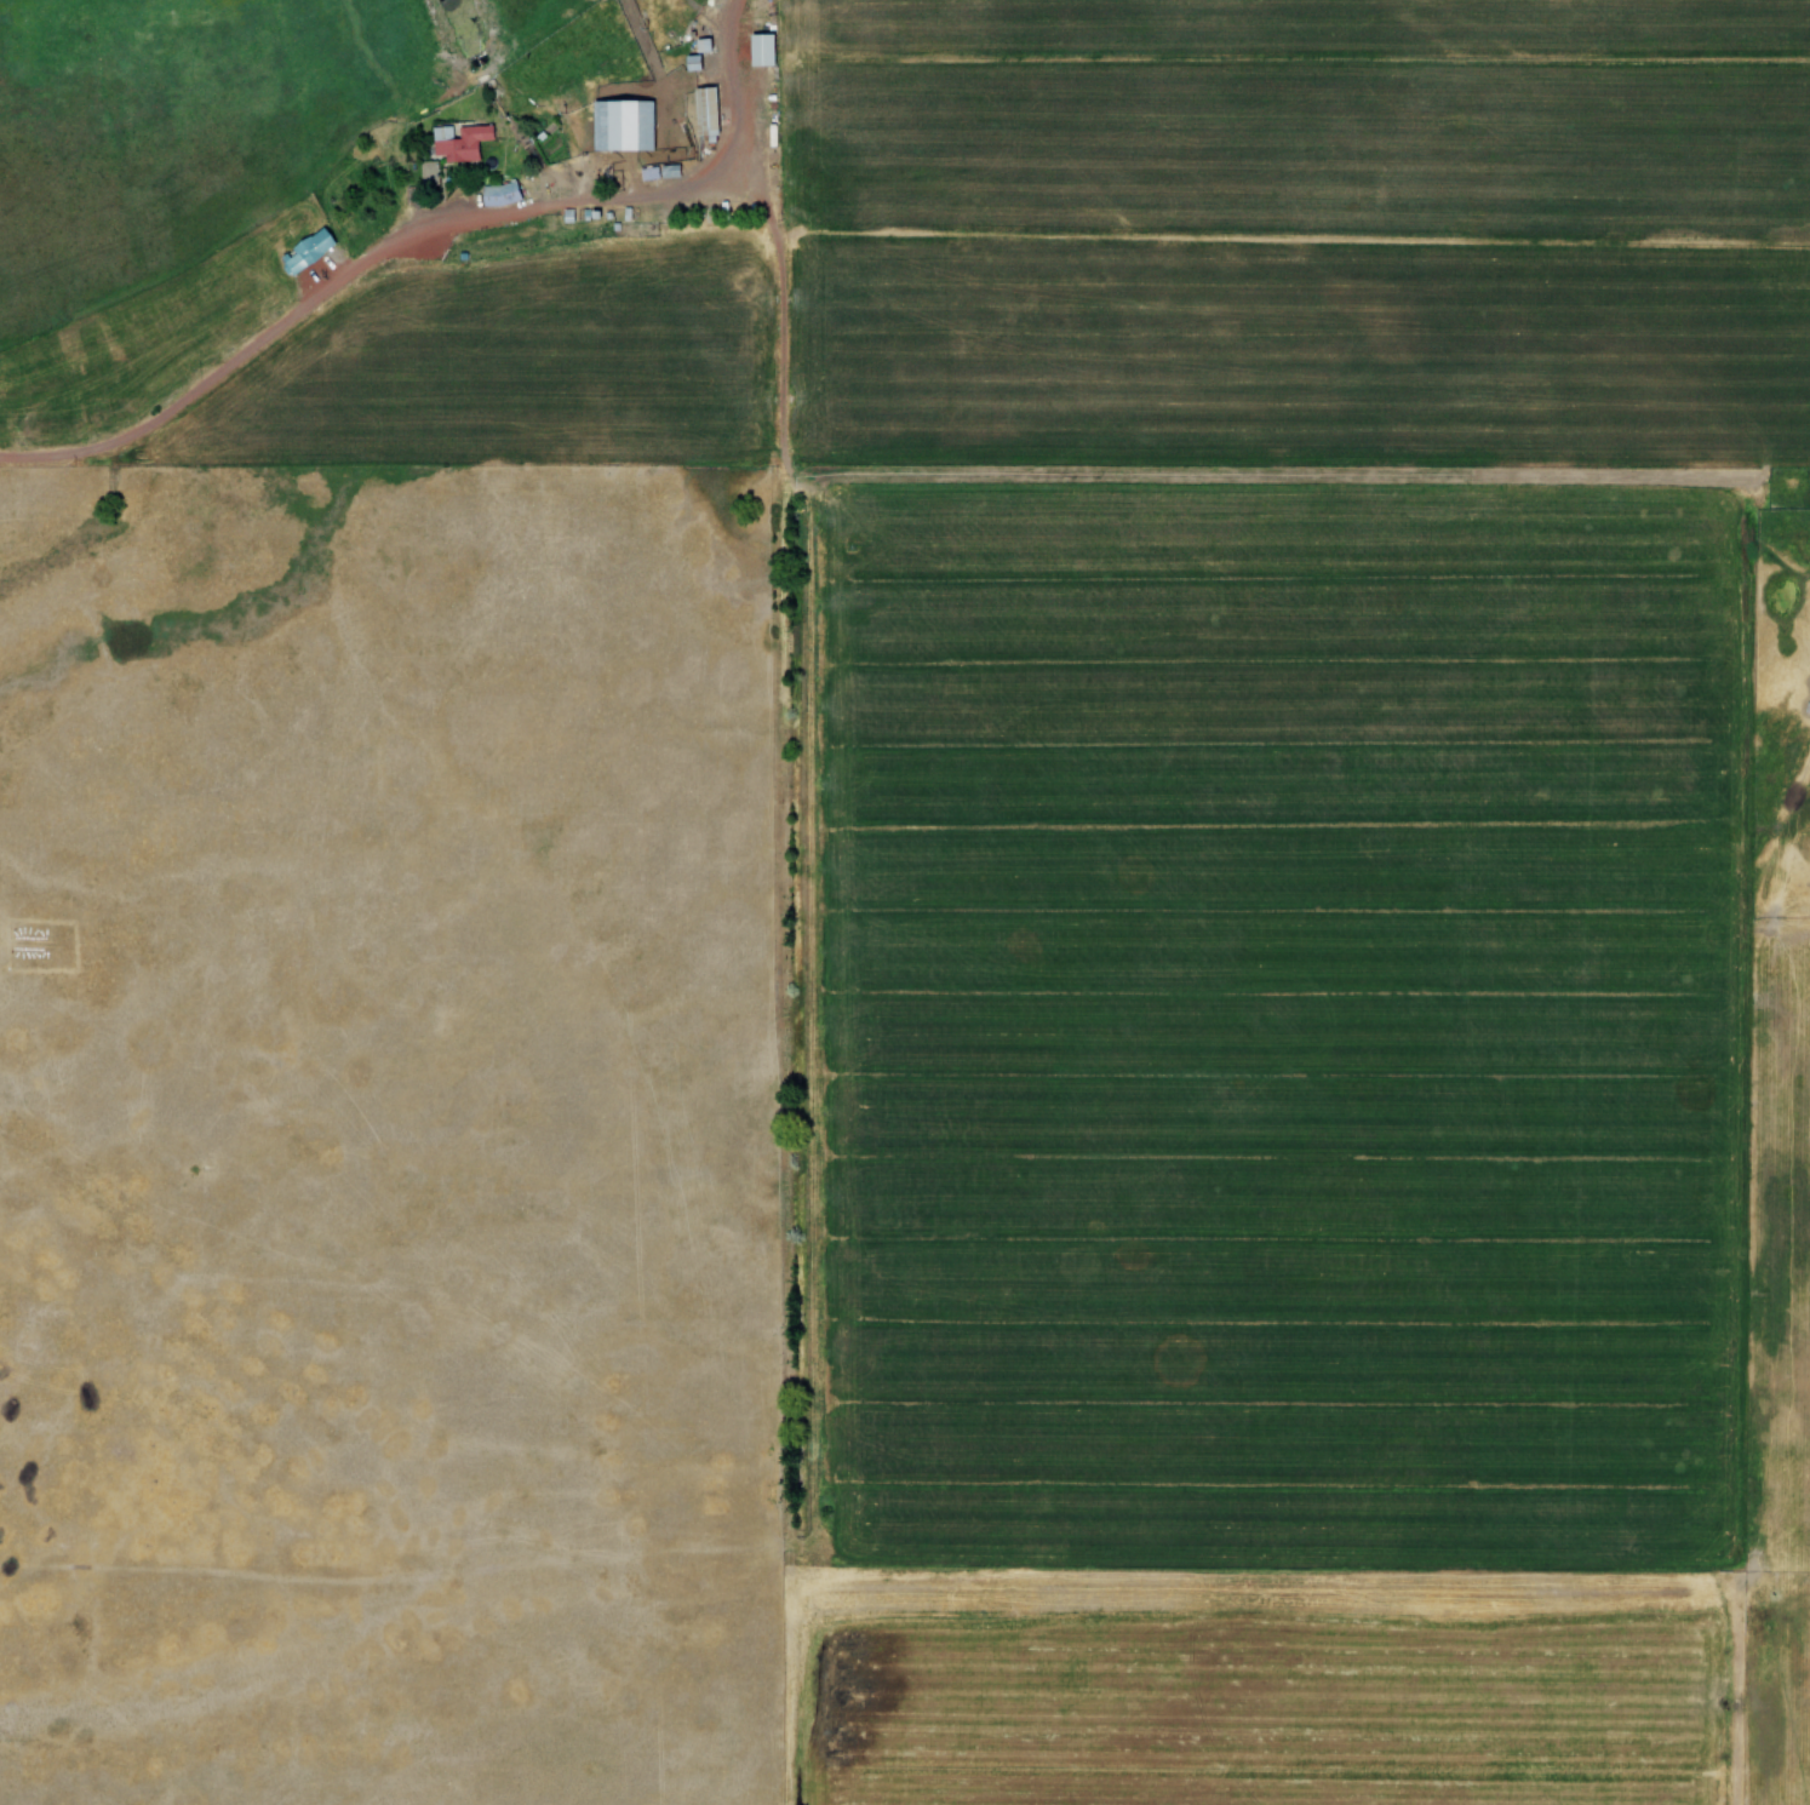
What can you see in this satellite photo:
building: (762, 48)
building: (705, 110)
building: (623, 125)
building: (428, 172)
building: (499, 194)
road: (418, 237)
building: (308, 250)
road: (811, 1135)

